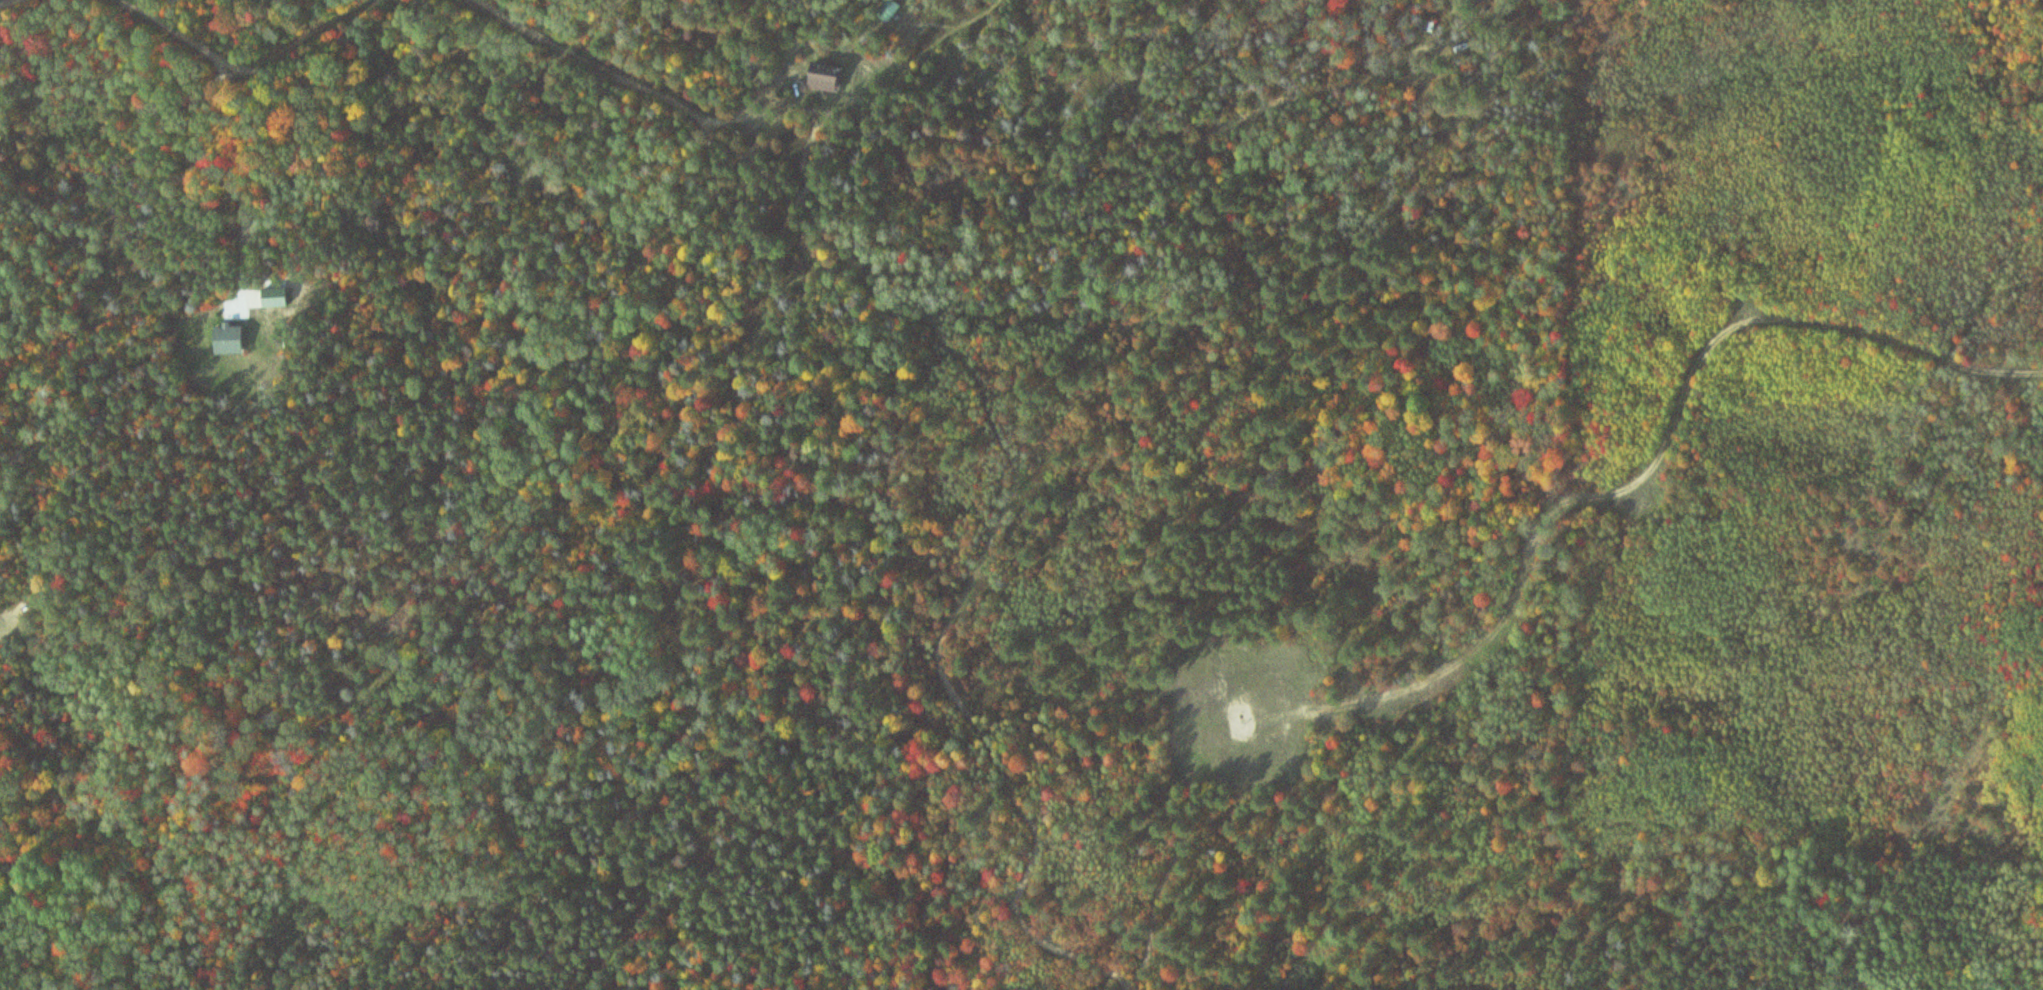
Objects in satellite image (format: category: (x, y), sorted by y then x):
building: (892, 10)
road: (611, 60)
road: (250, 69)
building: (830, 76)
building: (279, 297)
building: (233, 339)
road: (1661, 457)
road: (944, 663)

